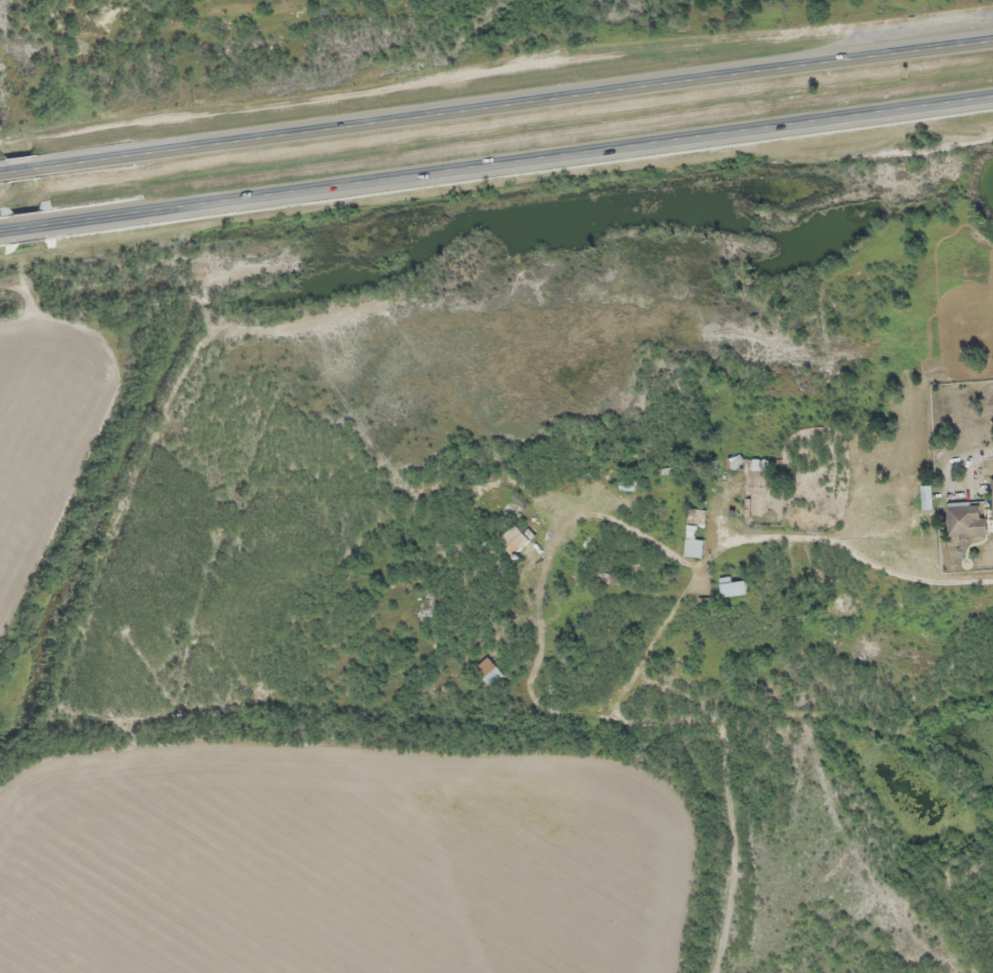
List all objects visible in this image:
road: (516, 102)
road: (522, 165)
road: (21, 169)
road: (1, 172)
road: (28, 232)
road: (2, 235)
building: (747, 464)
building: (628, 485)
building: (992, 494)
building: (928, 497)
building: (695, 518)
building: (966, 521)
building: (516, 540)
building: (694, 547)
building: (616, 577)
building: (732, 587)
building: (491, 672)

